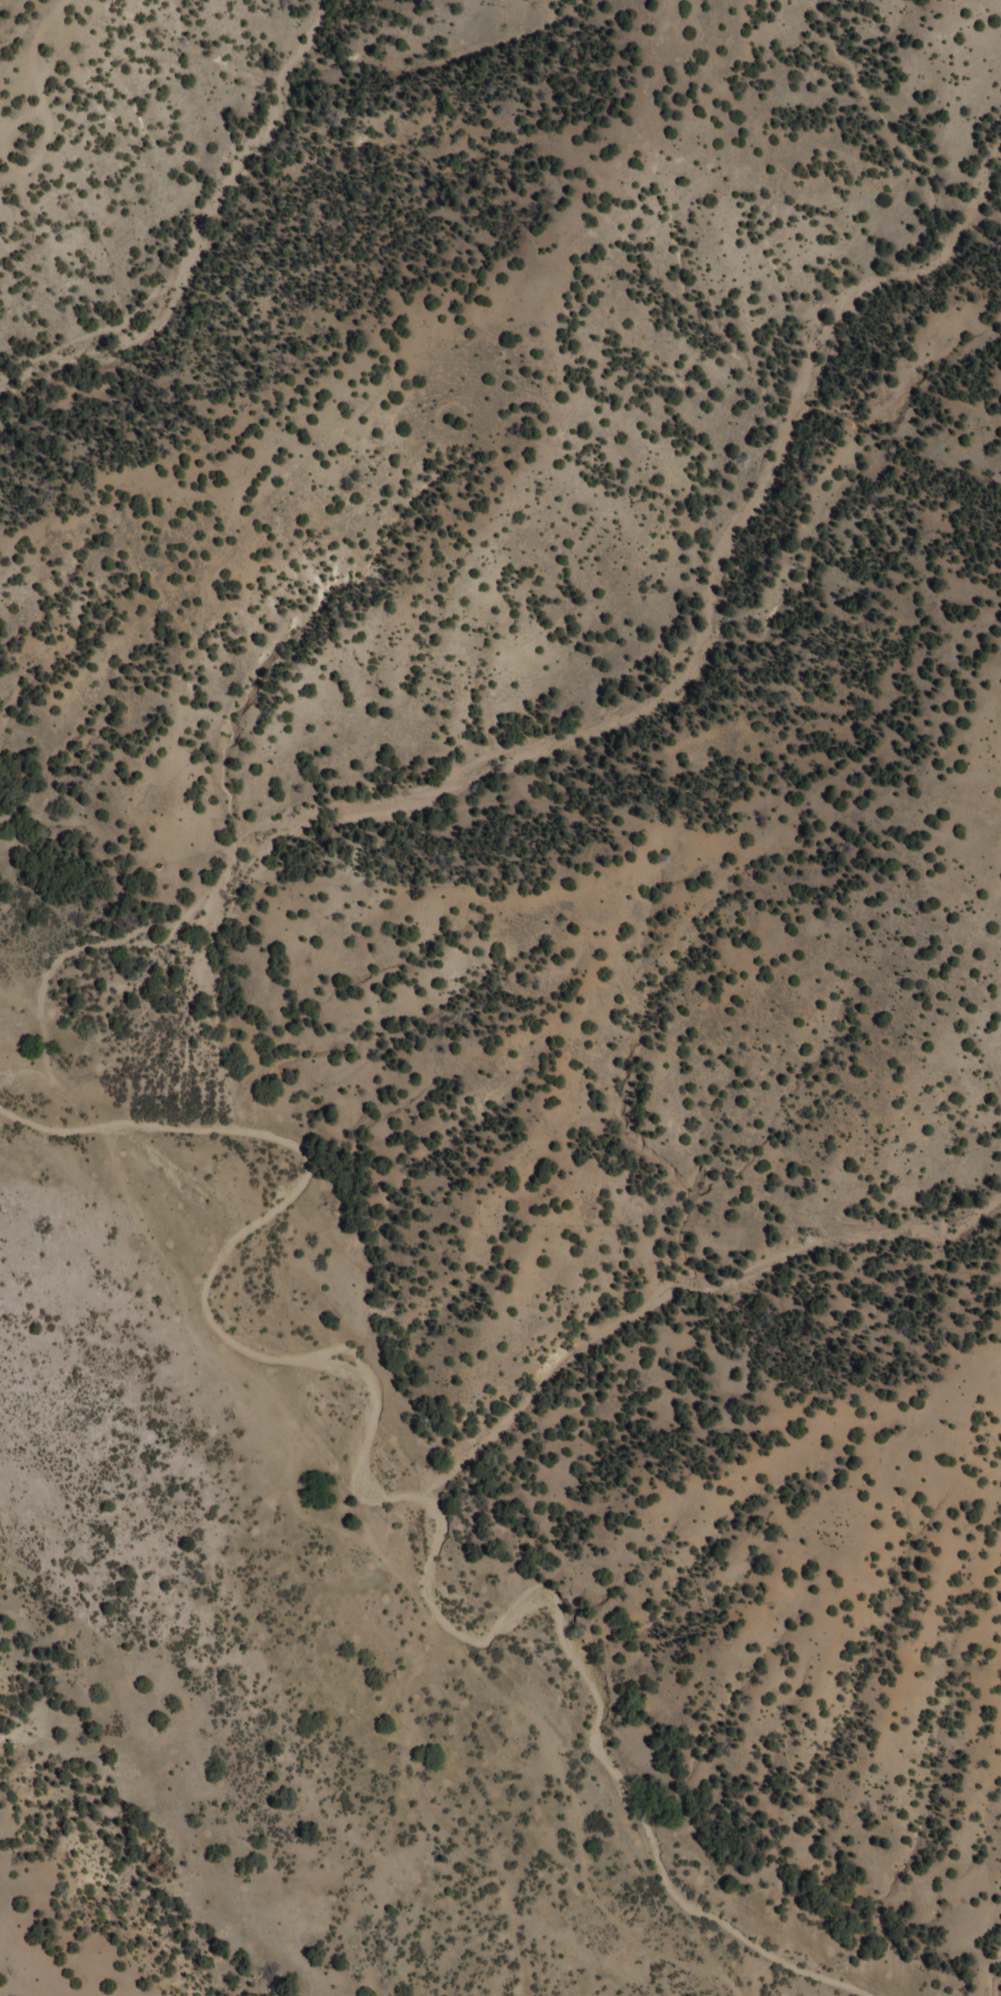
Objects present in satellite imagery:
road: (32, 52)
road: (381, 1555)

